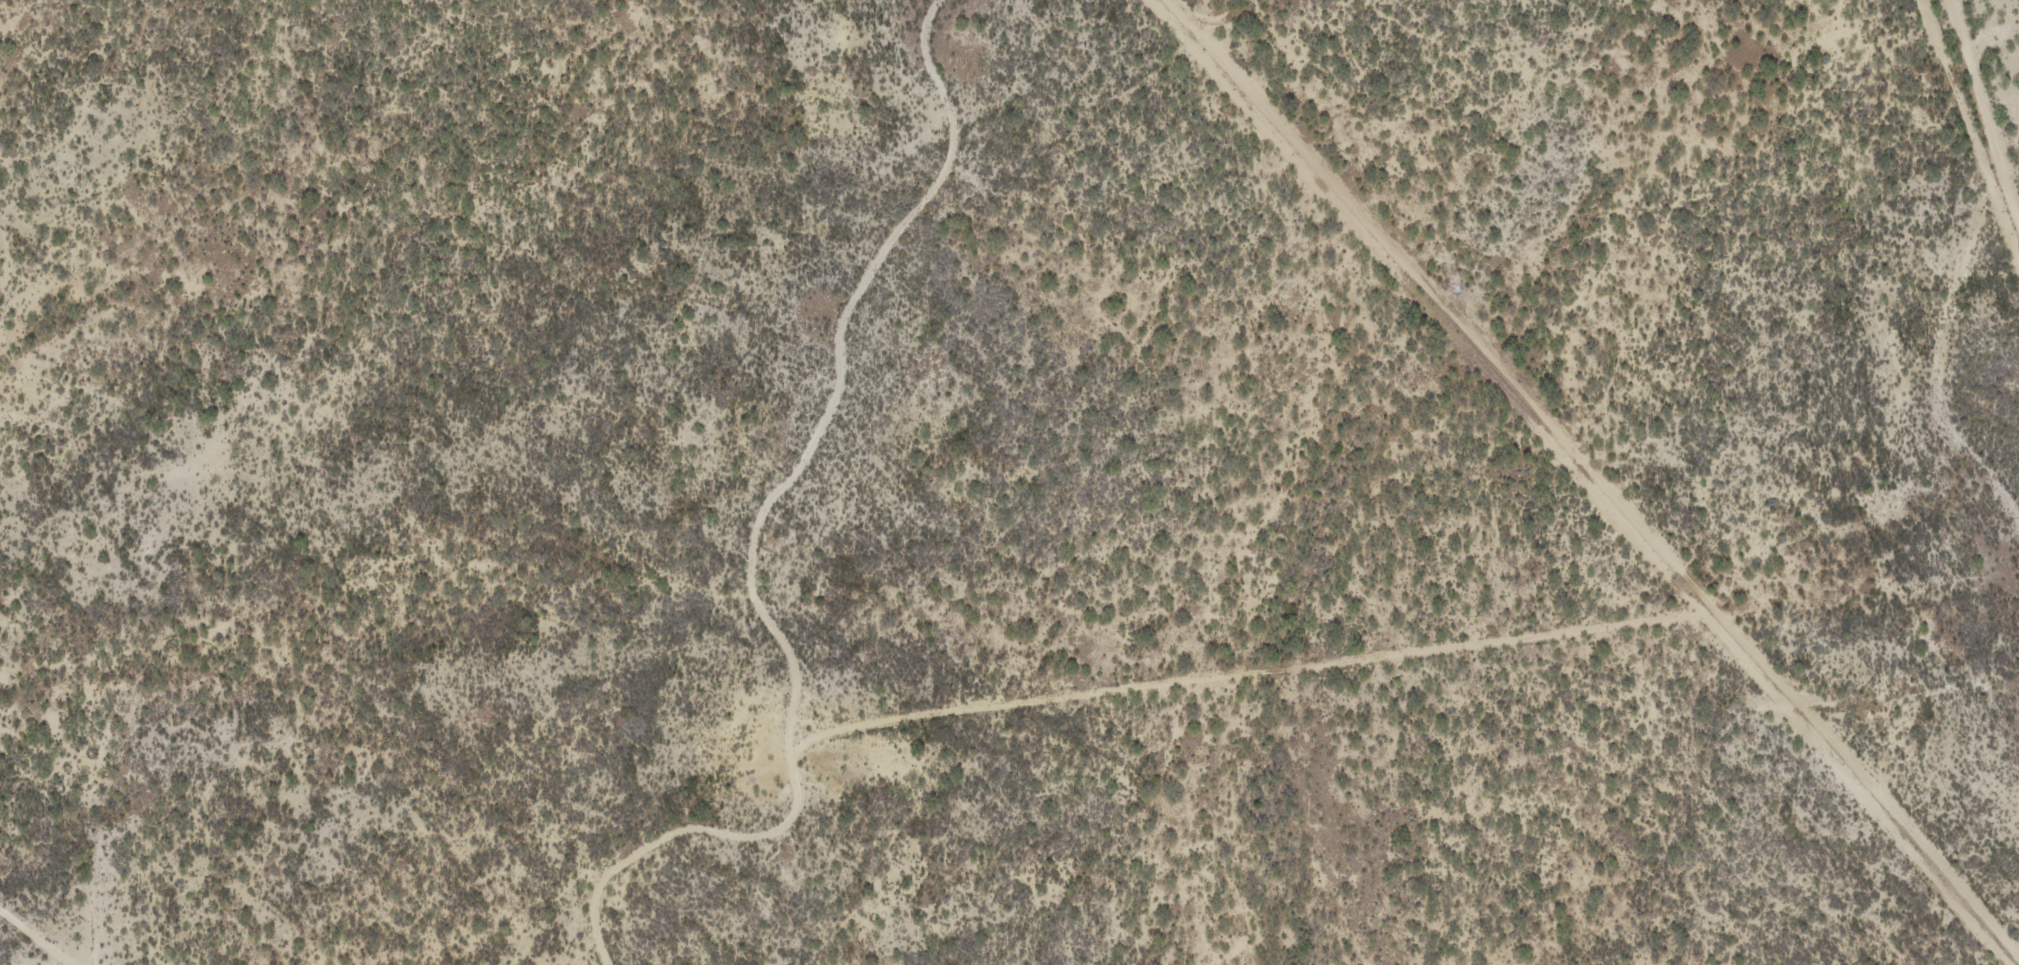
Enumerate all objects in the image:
road: (1974, 125)
road: (1589, 482)

